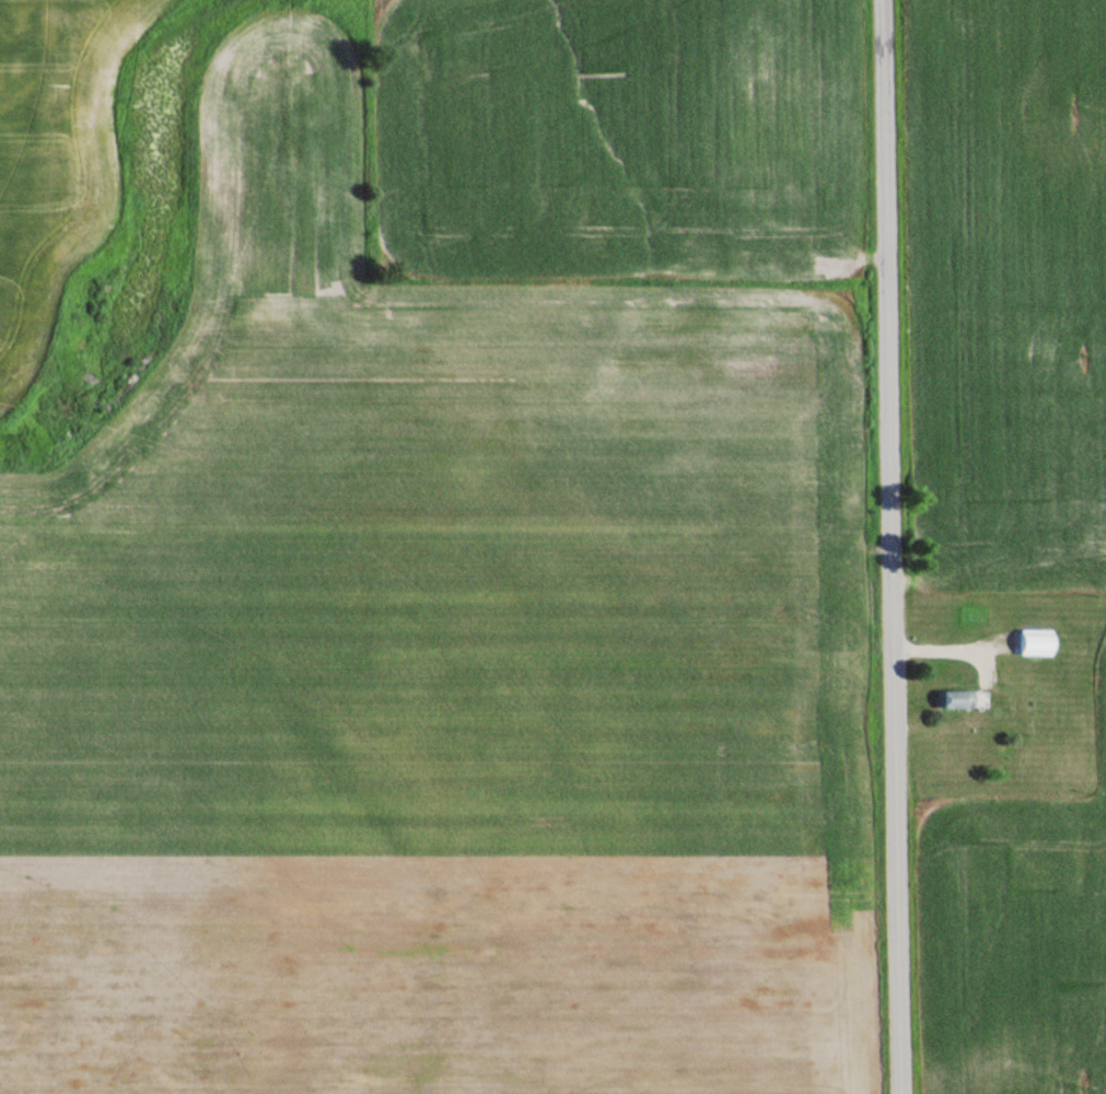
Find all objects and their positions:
road: (893, 547)
building: (1037, 642)
building: (955, 699)

